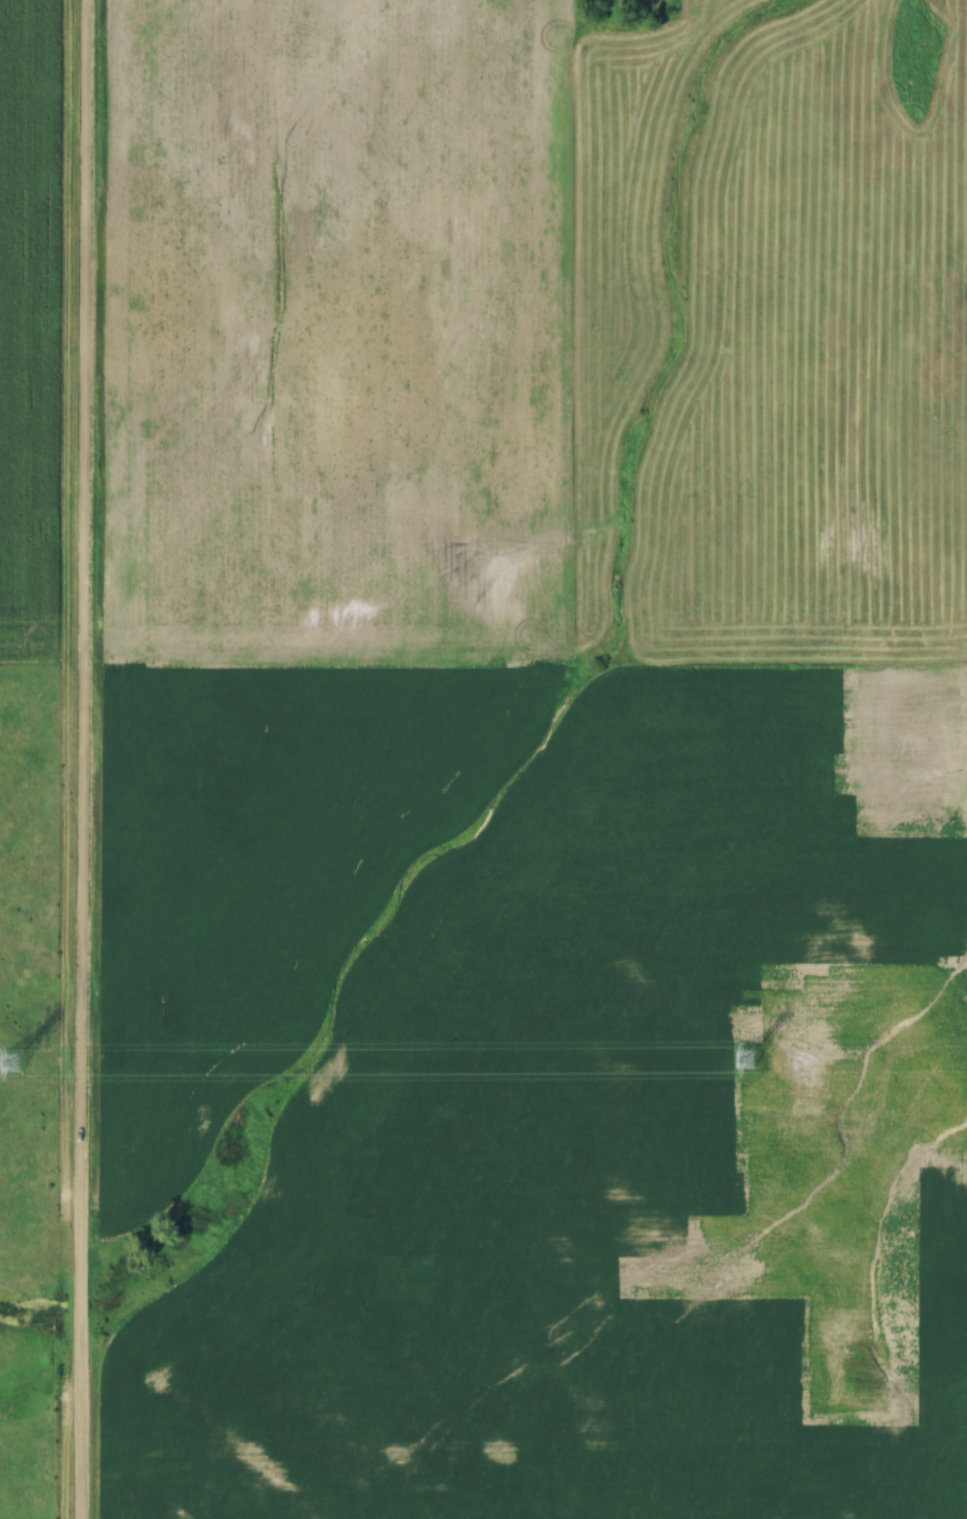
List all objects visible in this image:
road: (80, 759)
power tower: (749, 1061)
power tower: (13, 1064)

